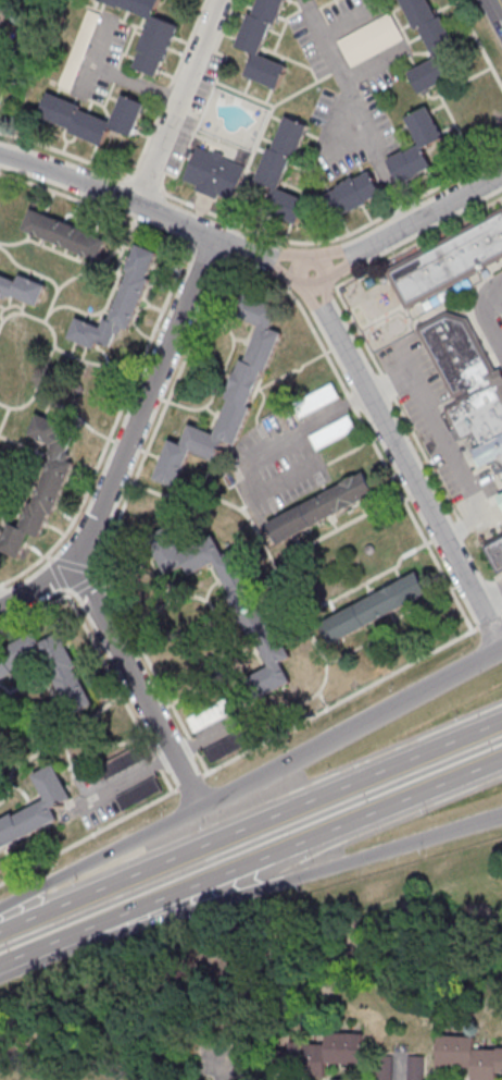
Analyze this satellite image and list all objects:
road: (501, 1)
road: (297, 2)
road: (244, 3)
road: (305, 10)
road: (352, 19)
road: (224, 25)
building: (149, 34)
building: (369, 38)
road: (181, 39)
parking lot: (354, 40)
building: (261, 42)
building: (430, 42)
road: (478, 42)
road: (200, 47)
road: (213, 50)
road: (273, 52)
road: (219, 53)
road: (376, 65)
road: (167, 90)
building: (0, 91)
road: (350, 93)
road: (278, 101)
road: (177, 102)
parking lot: (327, 109)
building: (90, 116)
road: (265, 122)
road: (337, 123)
parking lot: (377, 123)
road: (192, 133)
road: (214, 142)
building: (416, 147)
road: (63, 151)
road: (0, 156)
parking lot: (342, 159)
building: (283, 170)
building: (213, 173)
road: (457, 174)
road: (393, 175)
road: (143, 185)
building: (353, 194)
road: (402, 204)
road: (96, 207)
road: (149, 211)
road: (136, 212)
road: (402, 226)
building: (64, 233)
road: (276, 237)
road: (16, 241)
road: (205, 254)
road: (71, 256)
road: (222, 260)
road: (118, 261)
building: (449, 261)
road: (30, 268)
road: (74, 274)
building: (23, 287)
road: (491, 291)
building: (120, 302)
parking lot: (494, 306)
road: (204, 307)
road: (189, 308)
road: (491, 317)
road: (351, 318)
road: (334, 345)
road: (52, 346)
road: (219, 370)
road: (276, 376)
building: (467, 386)
road: (153, 395)
building: (227, 400)
road: (4, 405)
road: (3, 415)
road: (78, 418)
road: (114, 422)
road: (260, 428)
building: (331, 431)
road: (382, 432)
road: (127, 439)
road: (265, 439)
road: (21, 443)
road: (444, 443)
road: (351, 447)
road: (255, 449)
road: (399, 457)
parking lot: (284, 459)
building: (47, 480)
road: (415, 494)
building: (501, 499)
road: (243, 506)
building: (321, 507)
road: (460, 523)
road: (341, 525)
road: (436, 537)
building: (494, 554)
building: (223, 561)
road: (129, 566)
road: (161, 578)
road: (4, 579)
road: (87, 580)
road: (368, 580)
road: (459, 580)
road: (489, 594)
road: (3, 596)
road: (294, 602)
building: (375, 607)
road: (36, 609)
road: (222, 621)
road: (489, 621)
road: (391, 625)
road: (114, 629)
building: (16, 660)
building: (272, 662)
road: (439, 679)
road: (134, 684)
road: (128, 685)
road: (117, 691)
road: (323, 699)
road: (340, 700)
road: (155, 708)
building: (209, 713)
road: (65, 720)
road: (150, 727)
parking lot: (216, 728)
road: (57, 740)
building: (225, 745)
road: (67, 757)
road: (7, 761)
road: (160, 761)
building: (120, 762)
parking lot: (129, 777)
road: (189, 781)
building: (139, 791)
parking lot: (93, 796)
building: (38, 806)
road: (189, 812)
road: (250, 823)
road: (87, 836)
road: (251, 860)
road: (249, 892)
building: (324, 1053)
building: (468, 1056)
parking lot: (219, 1058)
road: (223, 1061)
building: (382, 1067)
road: (399, 1067)
building: (414, 1068)
road: (449, 1070)
road: (272, 1071)
road: (371, 1076)
building: (445, 1079)

